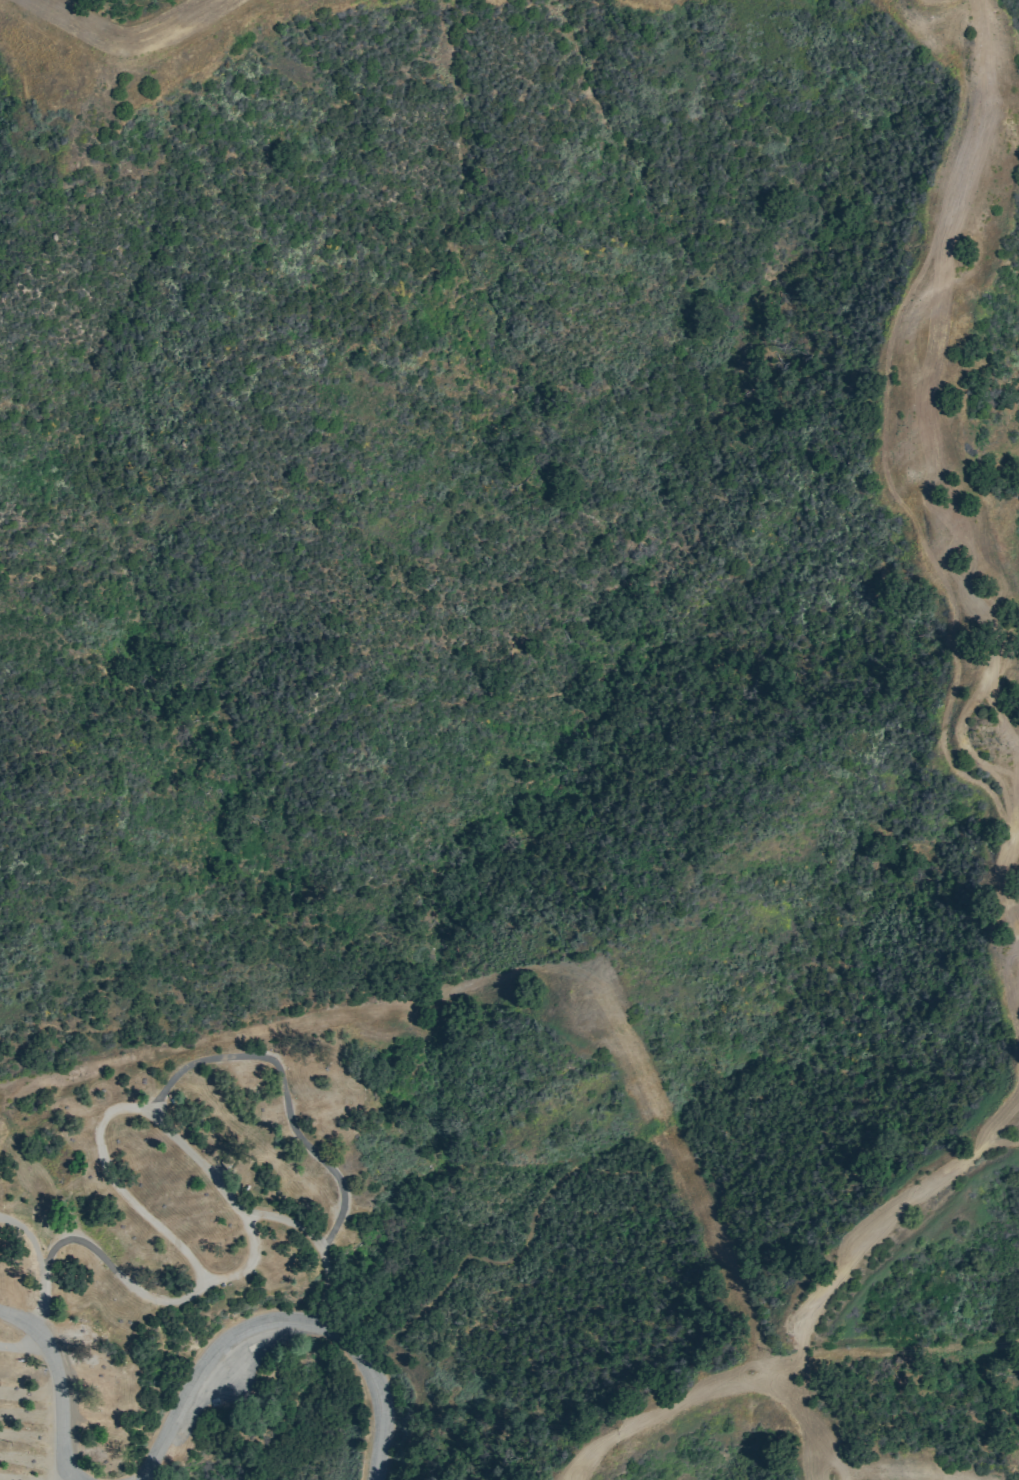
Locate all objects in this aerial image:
road: (122, 28)
road: (932, 471)
park: (509, 740)
road: (615, 1027)
road: (291, 1126)
road: (283, 1221)
road: (29, 1238)
road: (99, 1255)
road: (212, 1279)
road: (280, 1314)
road: (801, 1322)
road: (23, 1345)
road: (60, 1381)
road: (60, 1461)

